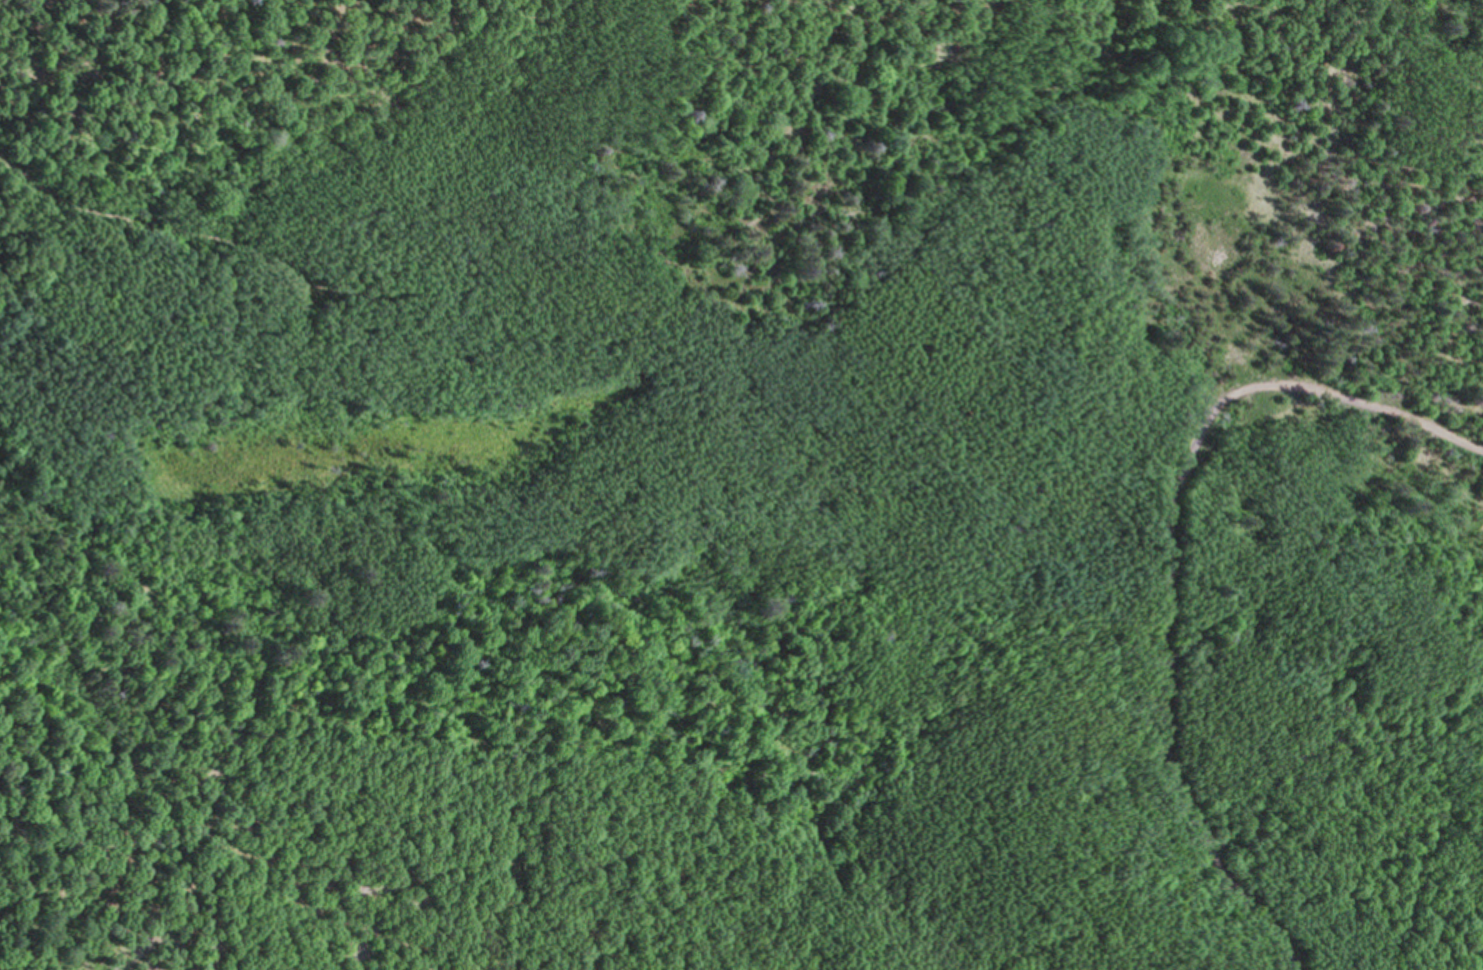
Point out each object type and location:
road: (160, 225)

